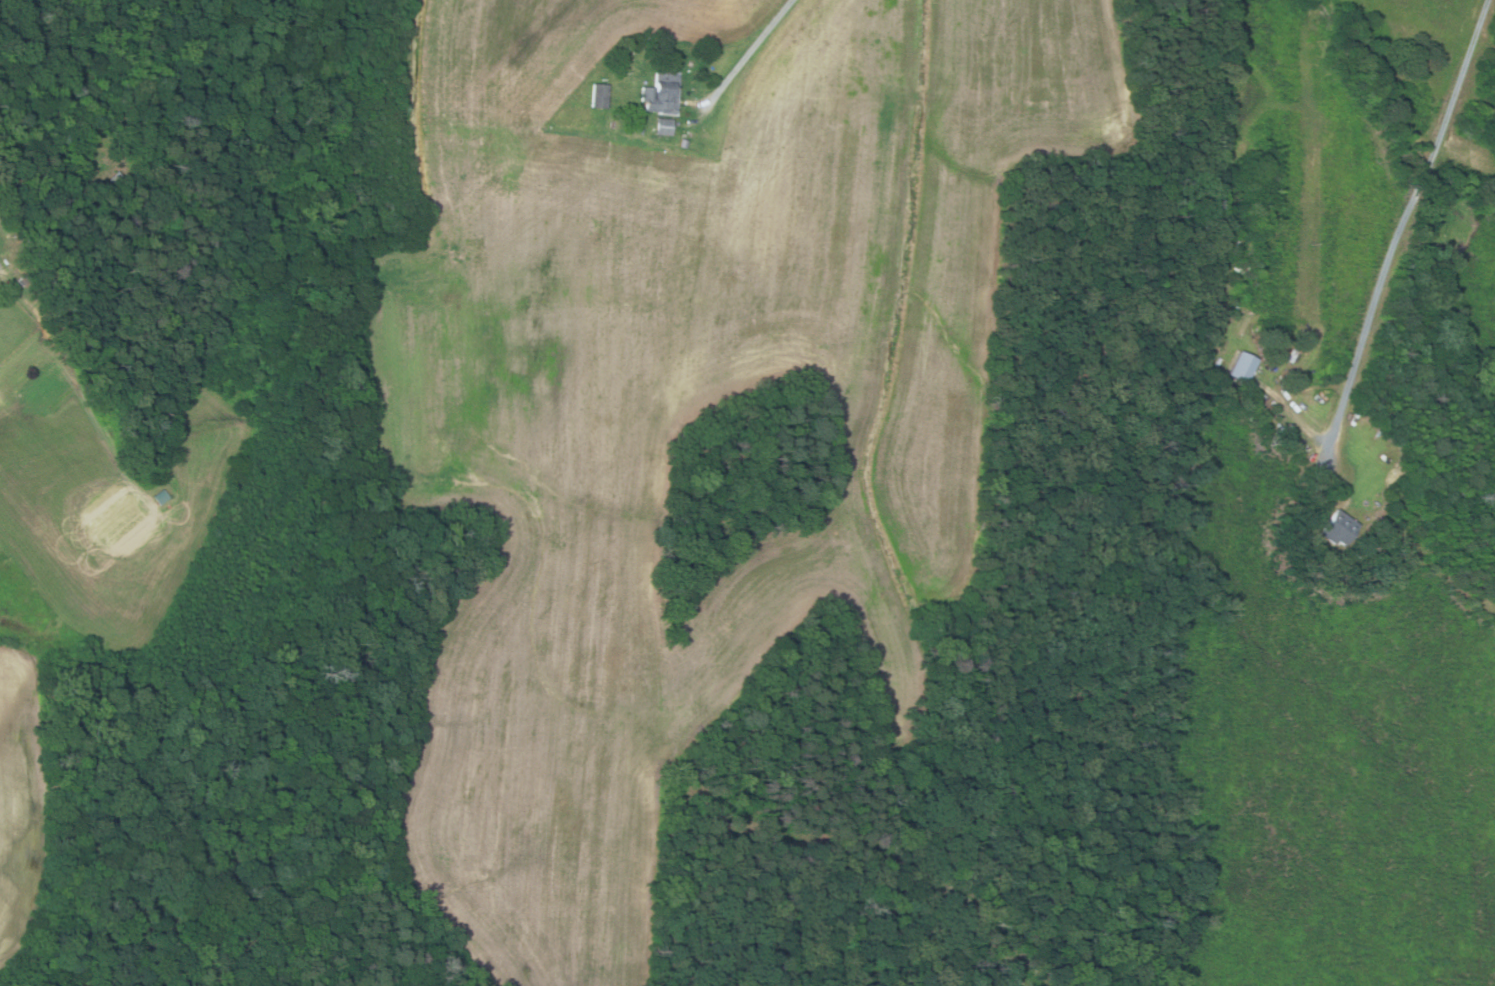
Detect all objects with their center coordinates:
road: (739, 63)
building: (661, 94)
building: (599, 96)
building: (663, 126)
building: (640, 131)
building: (683, 143)
road: (1407, 221)
building: (25, 278)
building: (1292, 356)
building: (1242, 367)
crop: (682, 401)
building: (160, 497)
building: (1338, 529)
crop: (20, 802)

